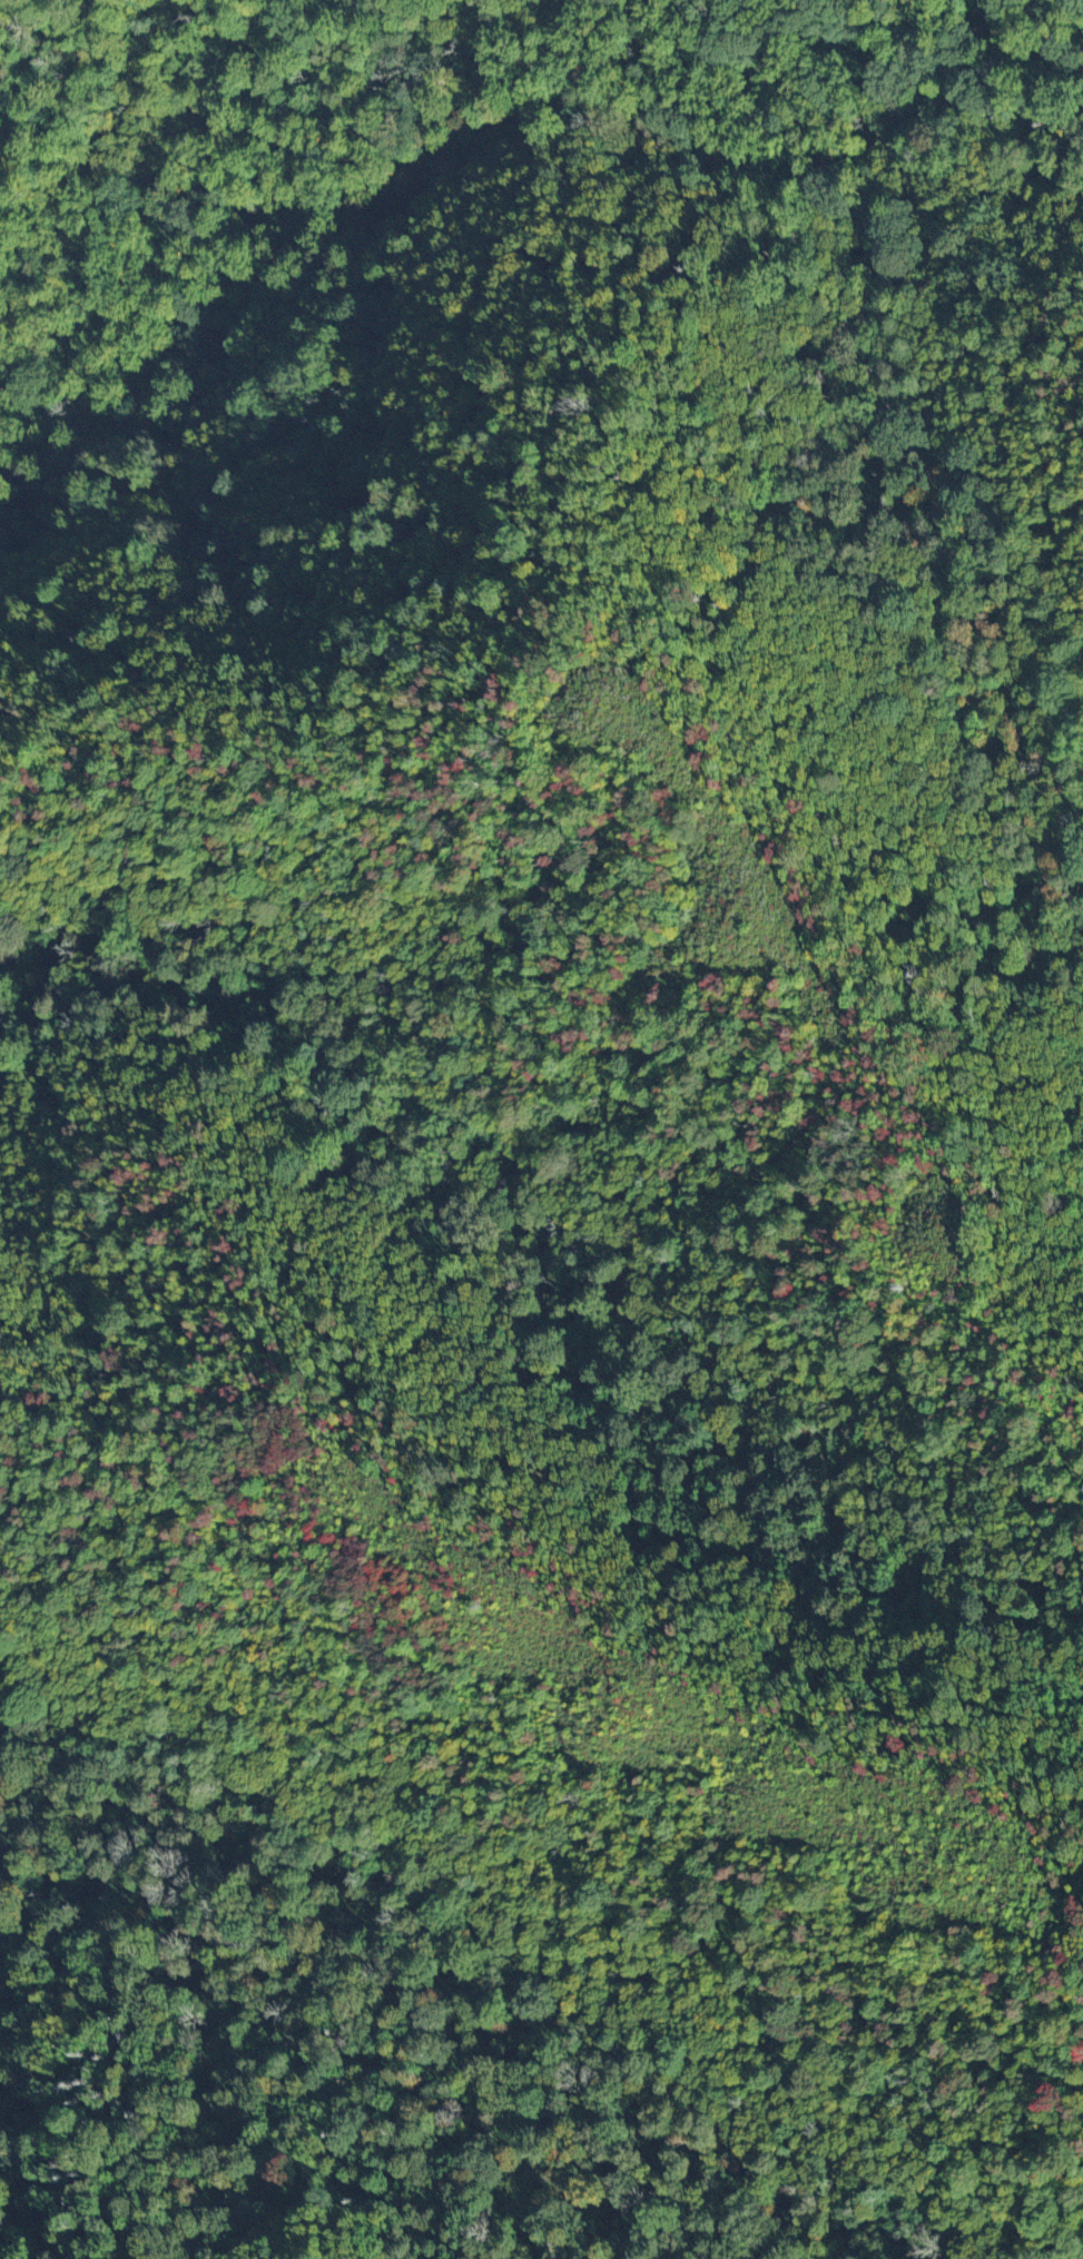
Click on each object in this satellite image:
road: (198, 224)

